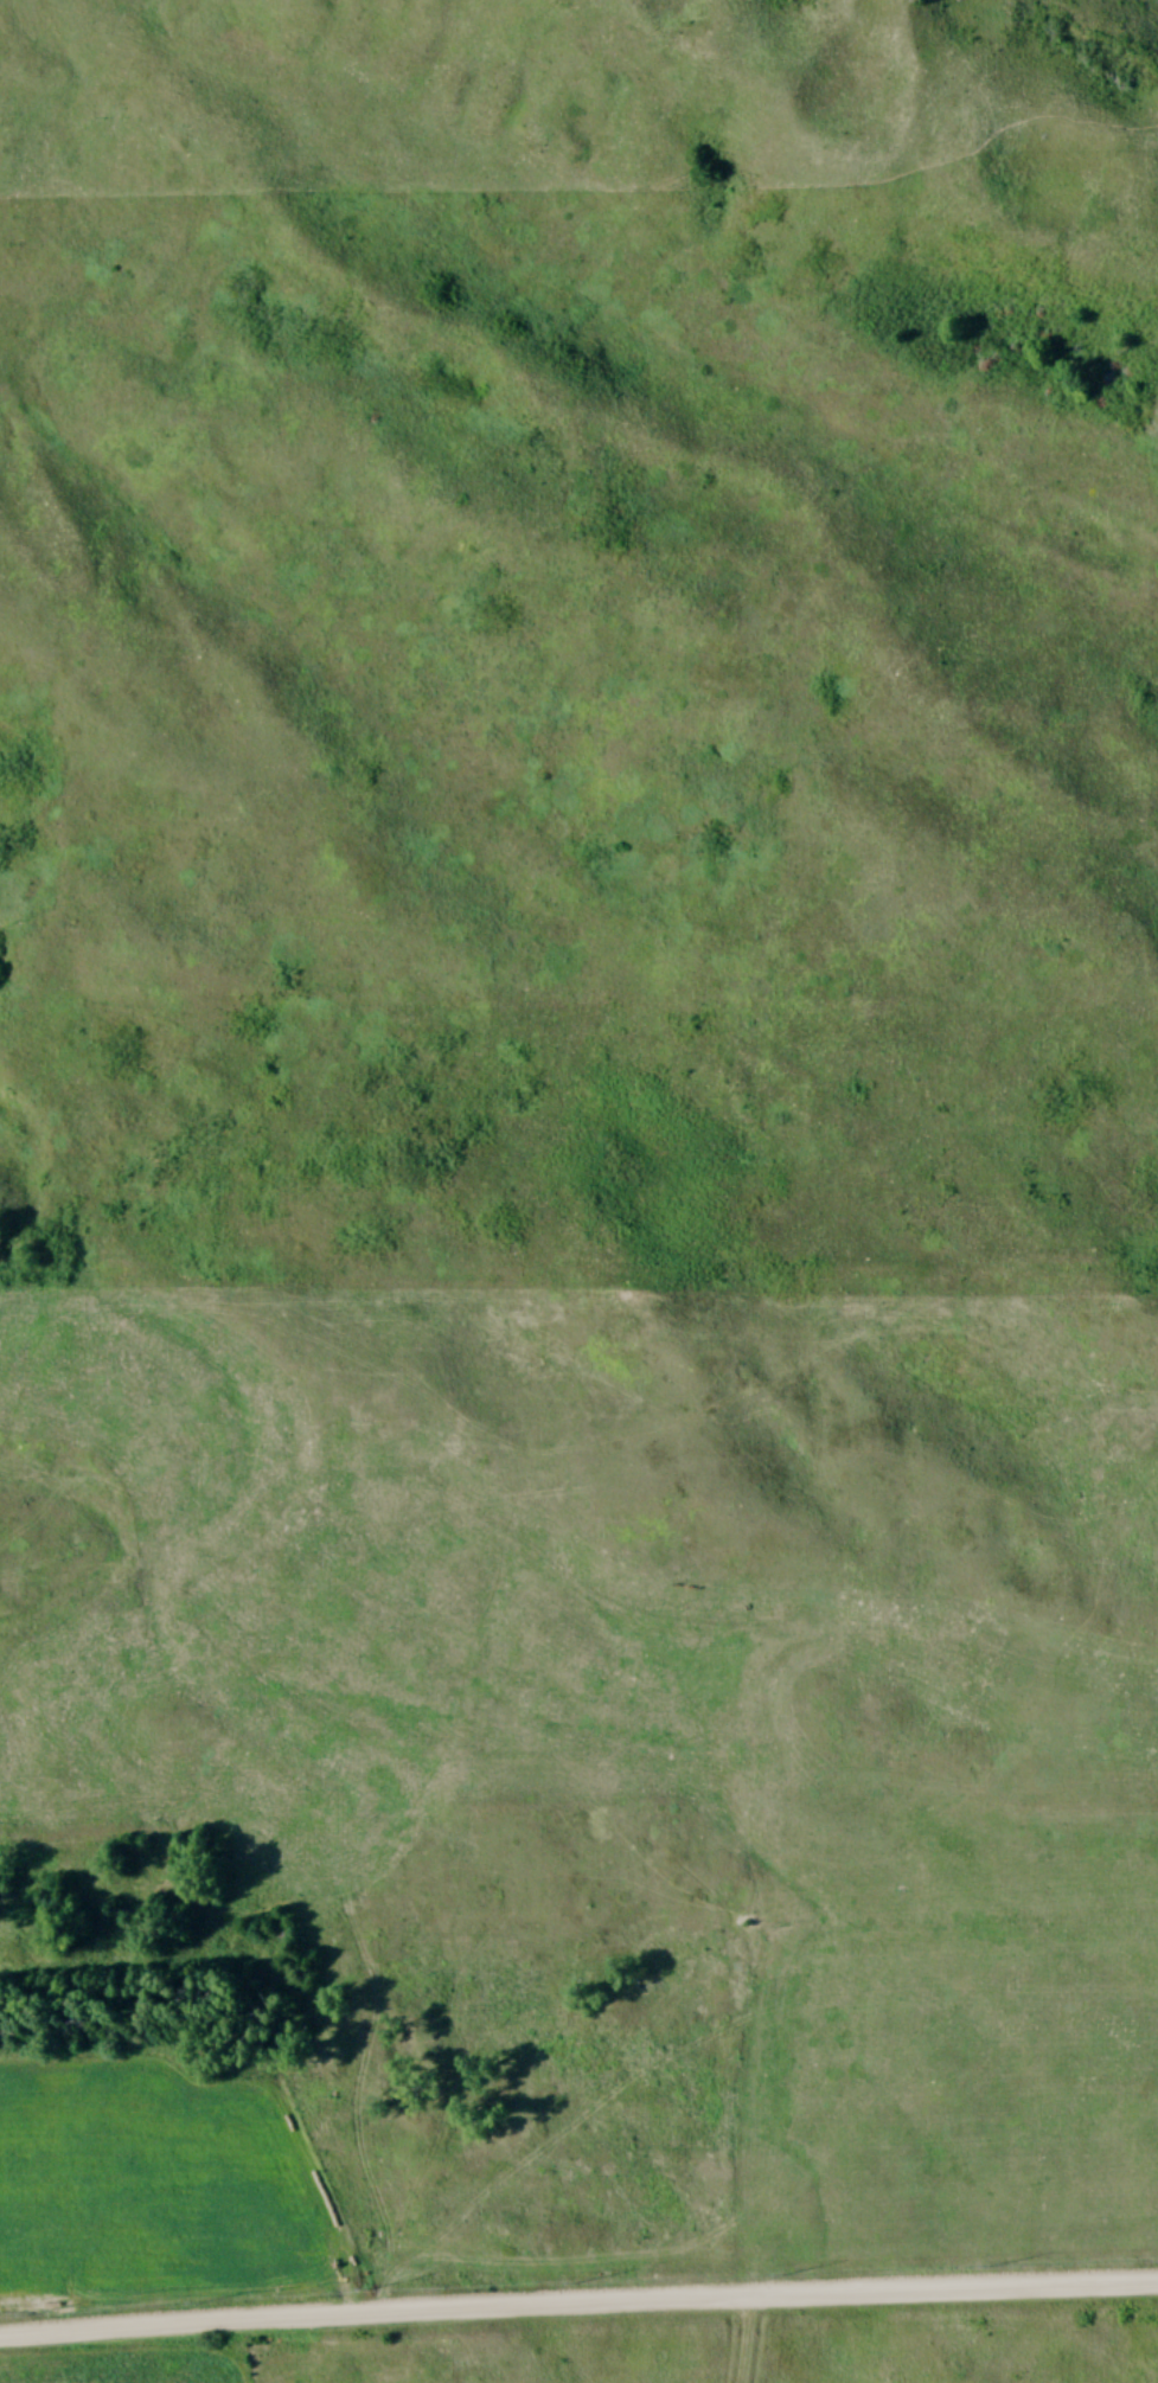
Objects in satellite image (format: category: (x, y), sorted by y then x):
road: (578, 2313)

